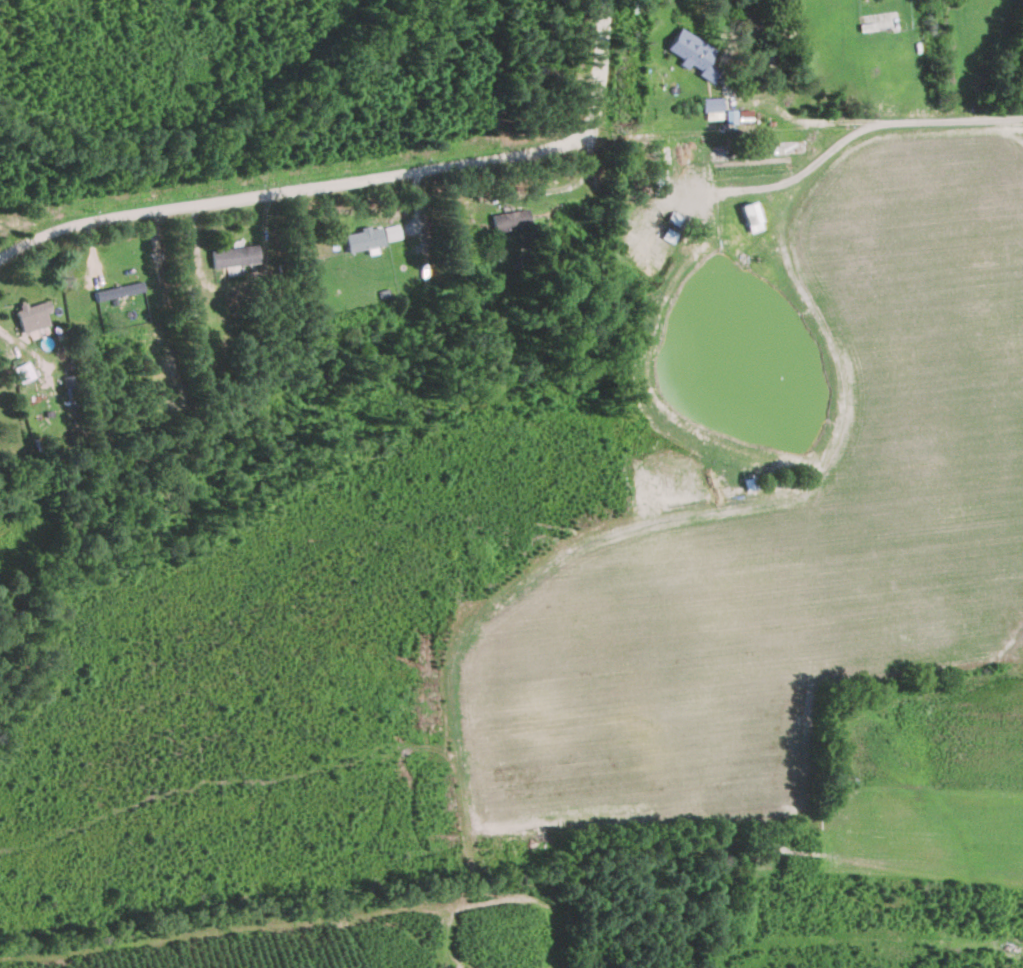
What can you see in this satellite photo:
road: (764, 28)
building: (689, 53)
building: (709, 104)
road: (853, 132)
road: (357, 181)
building: (746, 213)
building: (509, 219)
building: (391, 231)
building: (364, 237)
building: (234, 256)
building: (118, 289)
building: (32, 315)
building: (23, 371)

